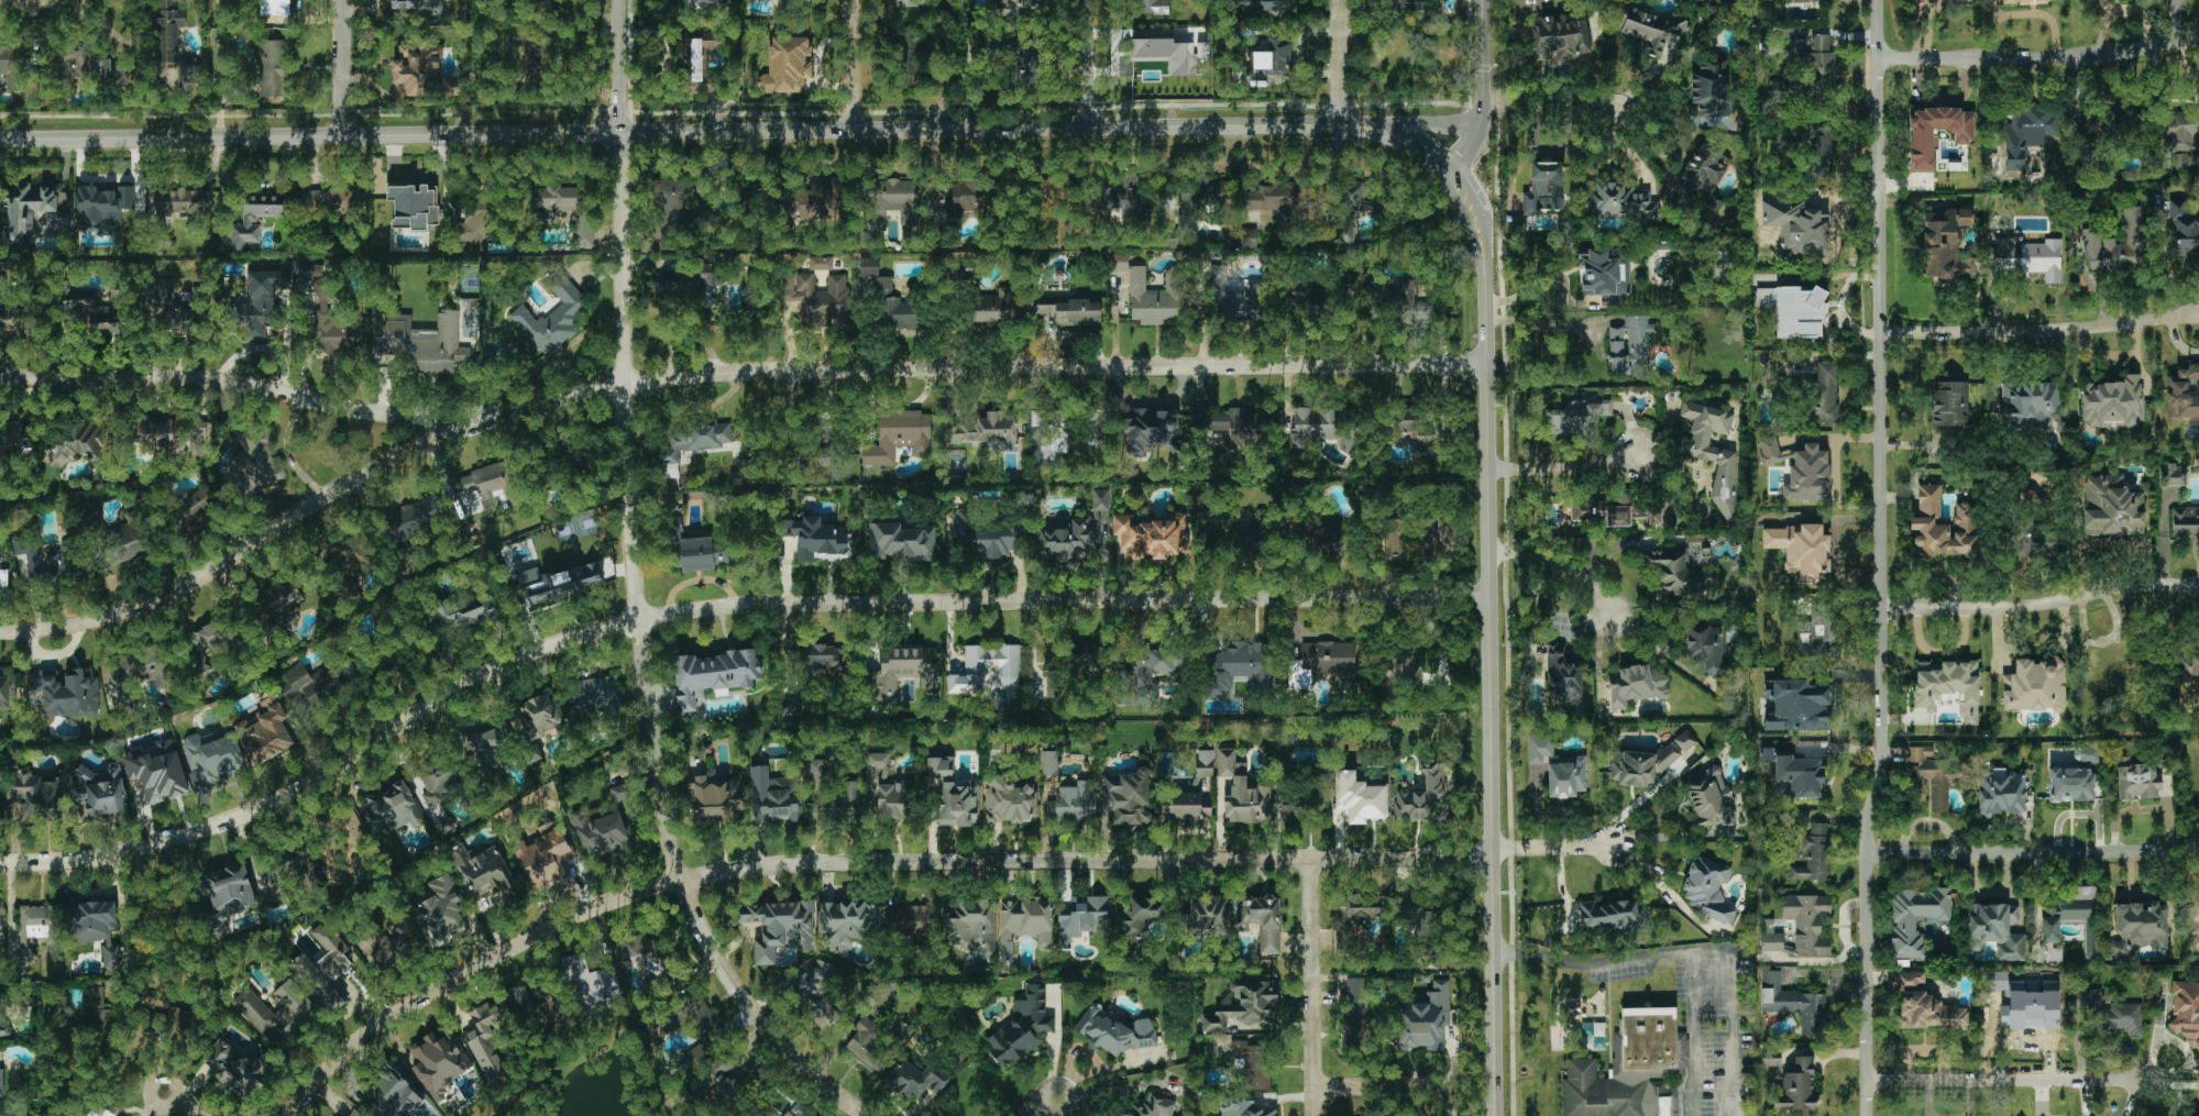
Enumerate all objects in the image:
road: (43, 0)
building: (707, 1)
building: (1812, 1)
building: (2020, 1)
road: (1529, 2)
building: (538, 3)
building: (905, 3)
building: (1405, 4)
building: (1018, 5)
building: (1264, 5)
building: (417, 7)
building: (1153, 7)
building: (273, 8)
building: (1651, 29)
building: (1559, 38)
building: (174, 44)
building: (1167, 54)
building: (702, 55)
road: (2038, 57)
building: (906, 58)
building: (1269, 58)
building: (536, 59)
road: (1339, 60)
road: (1087, 63)
road: (853, 64)
building: (788, 65)
building: (1123, 66)
building: (11, 67)
road: (619, 67)
building: (273, 68)
road: (344, 68)
building: (1024, 68)
building: (86, 69)
building: (419, 69)
building: (1813, 71)
road: (1485, 89)
building: (1711, 90)
road: (1552, 106)
road: (1671, 115)
road: (1351, 122)
road: (1422, 122)
building: (2131, 123)
building: (2089, 126)
road: (670, 132)
building: (1935, 134)
building: (2024, 134)
building: (1813, 146)
building: (2180, 162)
road: (1454, 173)
building: (1701, 173)
building: (1543, 188)
building: (1123, 194)
building: (968, 196)
building: (1275, 198)
building: (1618, 199)
building: (817, 200)
building: (184, 201)
building: (892, 201)
building: (333, 202)
building: (554, 202)
building: (414, 205)
building: (103, 206)
building: (24, 209)
building: (672, 211)
building: (255, 219)
building: (477, 221)
building: (59, 222)
building: (1816, 223)
building: (2182, 230)
building: (584, 231)
building: (1247, 237)
building: (1945, 244)
building: (2115, 245)
building: (2027, 258)
building: (868, 266)
building: (309, 270)
building: (1605, 274)
building: (706, 277)
building: (672, 286)
building: (884, 286)
building: (197, 295)
building: (1153, 295)
building: (818, 298)
building: (1235, 299)
building: (261, 302)
building: (169, 303)
building: (98, 310)
building: (990, 310)
building: (1070, 310)
building: (1794, 310)
building: (898, 312)
building: (553, 317)
building: (9, 320)
building: (338, 327)
road: (1544, 327)
road: (2039, 331)
building: (419, 343)
building: (1630, 345)
road: (971, 369)
road: (232, 383)
building: (1824, 391)
building: (2182, 394)
road: (1145, 402)
building: (1950, 404)
building: (2027, 404)
building: (2112, 404)
building: (1575, 418)
building: (1323, 427)
building: (1409, 430)
building: (986, 431)
building: (1152, 431)
building: (160, 433)
building: (899, 437)
building: (1054, 438)
building: (694, 440)
building: (17, 441)
building: (75, 441)
building: (1713, 452)
building: (256, 457)
road: (1564, 468)
building: (1800, 469)
building: (2173, 475)
building: (486, 484)
building: (1100, 500)
building: (2111, 507)
building: (196, 508)
building: (1601, 509)
building: (1647, 512)
building: (2185, 521)
building: (1943, 526)
building: (1234, 532)
building: (989, 534)
building: (1419, 535)
building: (1152, 537)
building: (1068, 539)
building: (2035, 539)
building: (821, 541)
building: (124, 542)
building: (901, 542)
building: (1801, 550)
road: (240, 553)
building: (701, 554)
road: (1879, 559)
building: (51, 562)
building: (350, 564)
road: (1562, 568)
building: (23, 571)
building: (1676, 571)
building: (3, 579)
building: (558, 583)
building: (279, 601)
road: (2038, 601)
road: (717, 607)
building: (209, 633)
building: (1818, 633)
building: (1708, 647)
building: (1077, 656)
road: (1662, 656)
building: (821, 659)
road: (646, 660)
building: (1400, 663)
building: (1323, 664)
building: (1241, 666)
building: (2189, 667)
building: (1009, 670)
building: (141, 671)
building: (901, 672)
building: (714, 675)
building: (1147, 675)
building: (1563, 679)
building: (308, 683)
building: (1056, 684)
building: (1636, 685)
building: (2035, 685)
building: (1948, 686)
building: (4, 693)
building: (68, 694)
building: (594, 694)
road: (1494, 694)
building: (791, 706)
building: (1797, 706)
building: (541, 715)
building: (265, 731)
building: (490, 747)
building: (213, 754)
building: (2086, 754)
building: (1648, 762)
building: (1048, 763)
building: (1205, 763)
building: (939, 767)
building: (1558, 767)
building: (818, 770)
building: (156, 771)
building: (1801, 775)
building: (1929, 777)
building: (2138, 778)
building: (2070, 784)
building: (891, 789)
building: (99, 791)
building: (620, 792)
building: (1242, 792)
building: (0, 793)
building: (2001, 793)
building: (439, 794)
building: (36, 796)
building: (773, 796)
building: (1422, 796)
building: (712, 797)
building: (1128, 797)
building: (1359, 798)
building: (1709, 798)
road: (1638, 799)
building: (1009, 802)
building: (840, 803)
building: (958, 804)
building: (1073, 804)
building: (1306, 805)
building: (393, 809)
building: (603, 833)
road: (1552, 846)
road: (2031, 851)
building: (1814, 854)
road: (856, 863)
building: (482, 870)
building: (275, 883)
building: (1706, 888)
building: (440, 909)
building: (1364, 909)
building: (1203, 917)
building: (1416, 917)
building: (1612, 917)
building: (2072, 917)
building: (1081, 918)
building: (1141, 918)
building: (1915, 918)
building: (908, 920)
building: (1262, 920)
building: (2193, 921)
building: (846, 922)
building: (1, 924)
building: (1807, 924)
building: (970, 925)
building: (780, 927)
building: (97, 928)
building: (36, 929)
building: (1995, 930)
building: (1772, 942)
building: (388, 951)
road: (1714, 951)
building: (641, 953)
road: (1595, 963)
building: (325, 968)
building: (1911, 977)
building: (591, 984)
road: (1313, 987)
building: (817, 993)
building: (1354, 997)
building: (1794, 1004)
building: (2023, 1004)
building: (528, 1005)
building: (1243, 1007)
building: (277, 1012)
building: (2186, 1012)
building: (83, 1013)
building: (1933, 1013)
building: (2114, 1014)
building: (701, 1019)
building: (1425, 1019)
building: (1022, 1027)
building: (1114, 1031)
building: (1354, 1032)
building: (485, 1041)
building: (868, 1047)
building: (439, 1063)
building: (1253, 1063)
building: (238, 1068)
building: (1632, 1070)
building: (916, 1080)
road: (2008, 1082)
building: (1, 1083)
building: (1796, 1085)
road: (1374, 1087)
road: (179, 1089)
building: (727, 1091)
building: (397, 1092)
road: (1031, 1105)
road: (1045, 1107)
building: (1151, 1107)
building: (1243, 1107)
road: (191, 1108)
building: (102, 1109)
building: (4, 1111)
building: (800, 1111)
building: (356, 1114)
building: (19, 1115)

